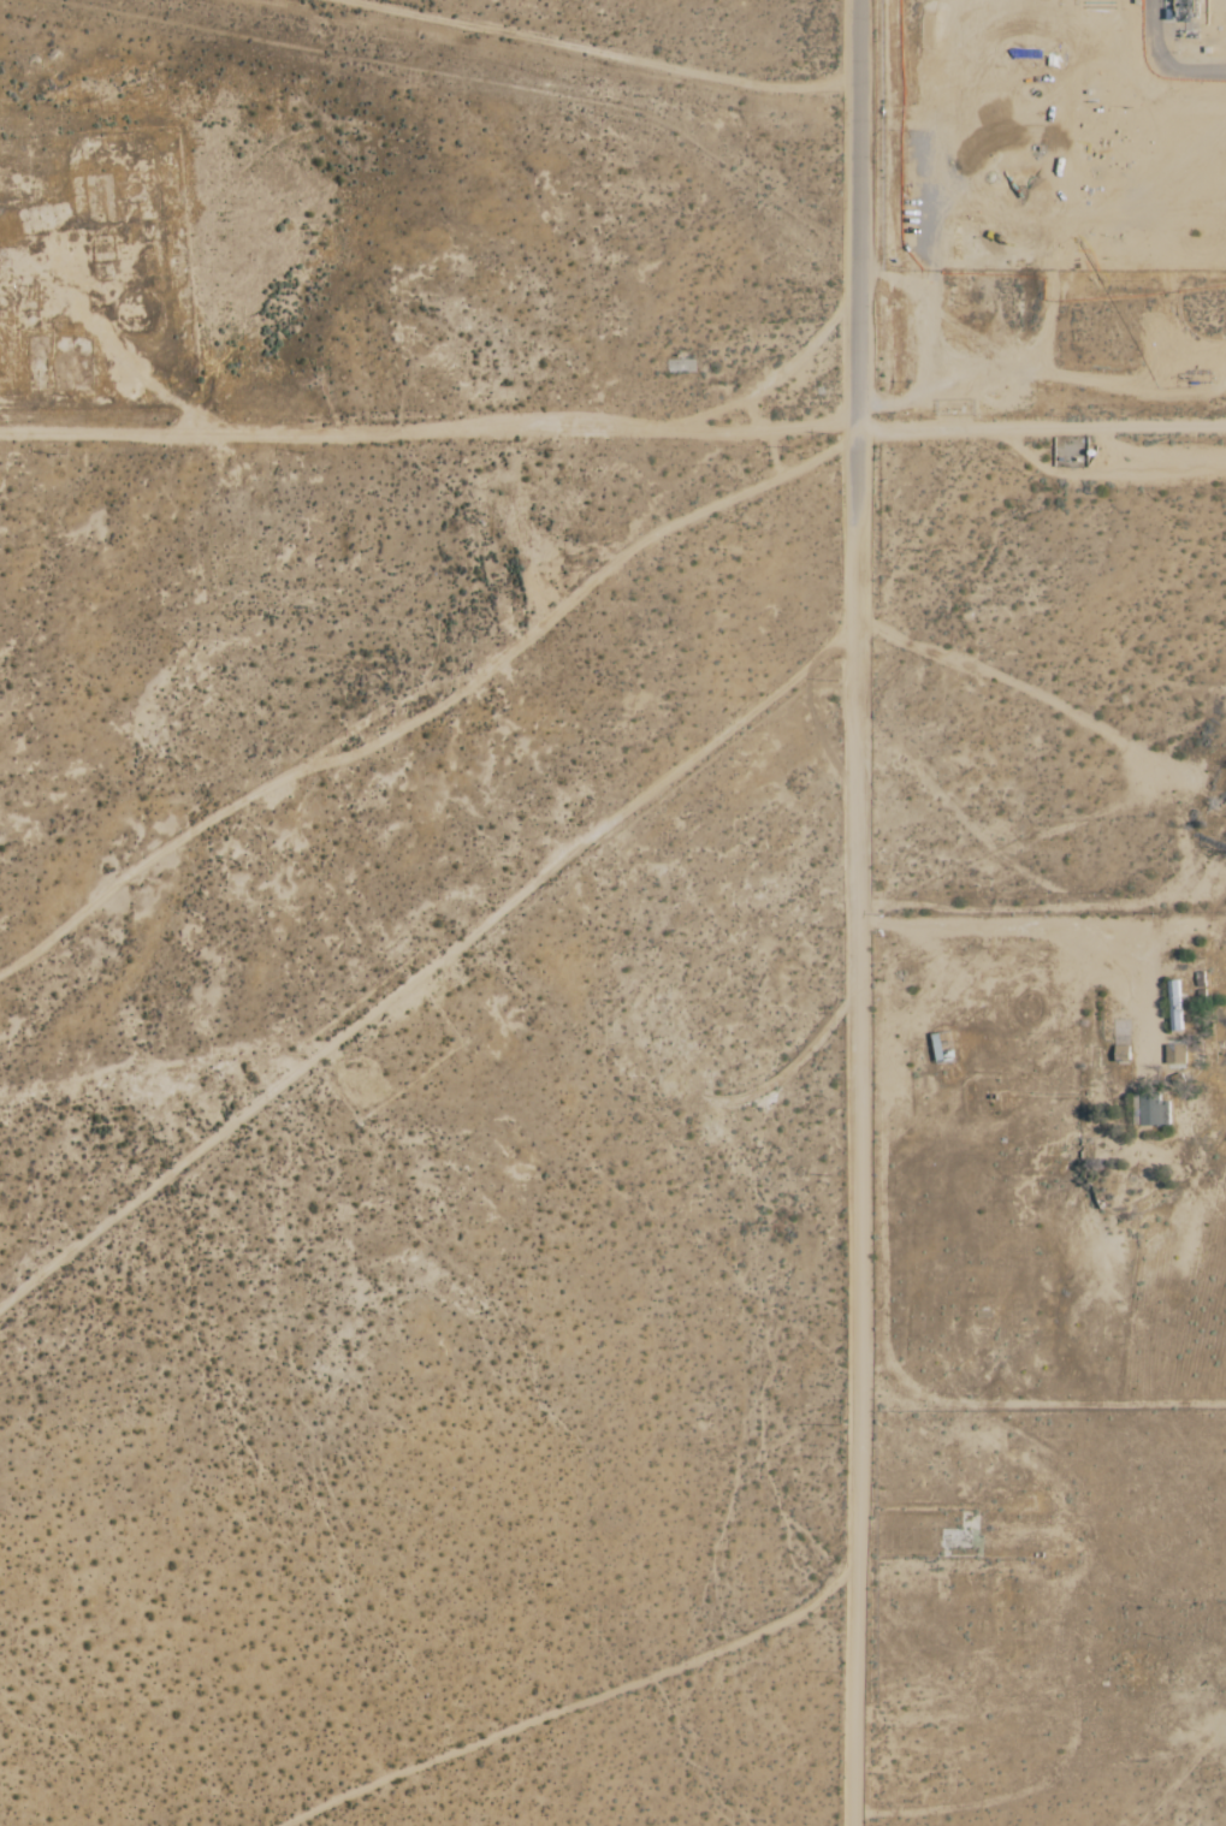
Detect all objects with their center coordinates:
road: (1162, 61)
road: (860, 215)
road: (1043, 429)
road: (430, 433)
road: (860, 479)
road: (1062, 927)
building: (1177, 1055)
building: (1156, 1111)
road: (855, 1175)
road: (570, 1703)

